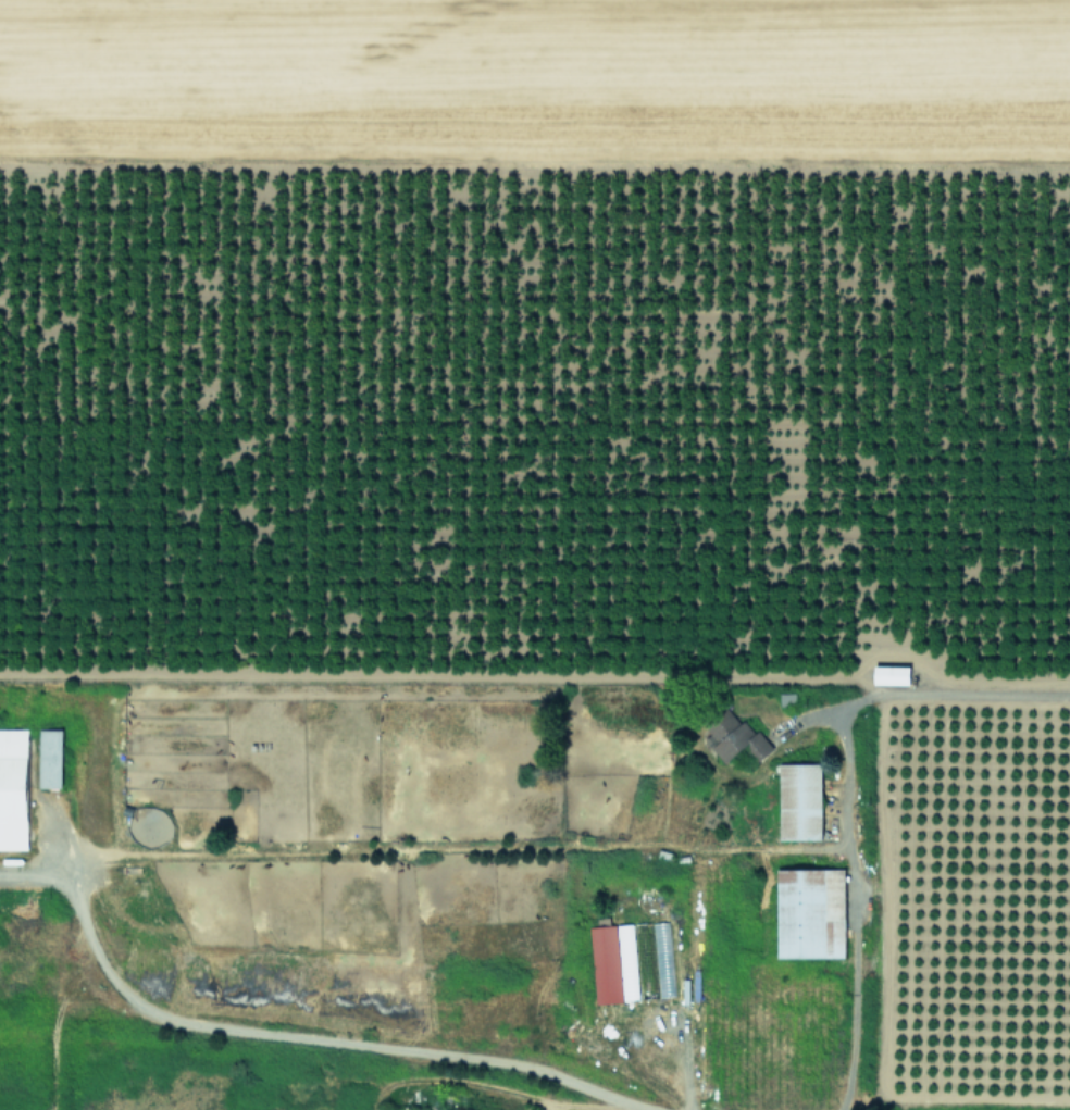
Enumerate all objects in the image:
crop: (535, 332)
building: (891, 674)
road: (949, 695)
building: (786, 698)
building: (735, 736)
building: (49, 758)
building: (13, 788)
building: (799, 801)
road: (853, 910)
building: (810, 912)
road: (307, 1036)
building: (414, 1095)

